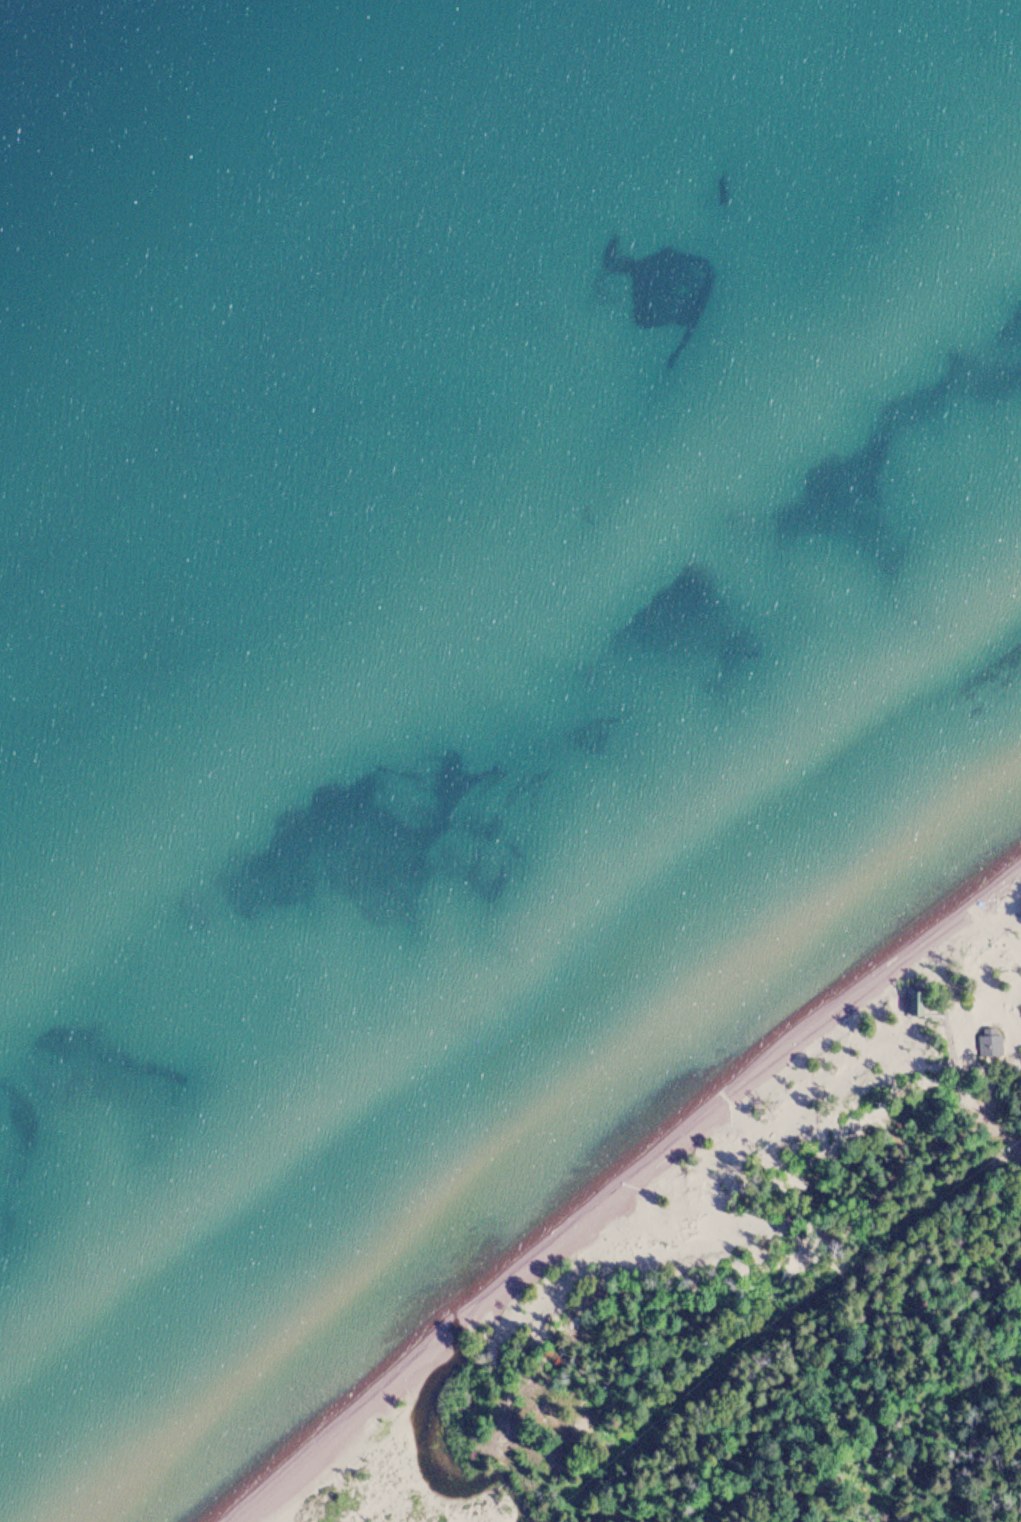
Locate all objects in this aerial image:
road: (783, 1308)

